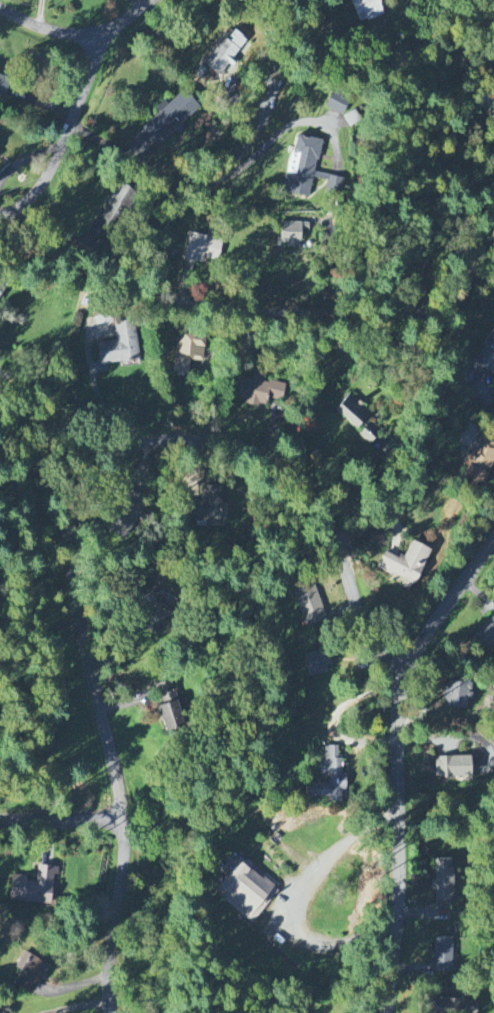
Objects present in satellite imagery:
building: (366, 10)
road: (322, 12)
road: (82, 42)
building: (223, 54)
building: (4, 84)
road: (80, 88)
building: (335, 104)
building: (169, 119)
road: (146, 160)
building: (301, 167)
building: (333, 187)
building: (109, 215)
building: (289, 234)
road: (48, 244)
building: (200, 250)
road: (480, 276)
building: (1, 289)
road: (269, 310)
road: (377, 334)
building: (119, 346)
building: (186, 353)
building: (486, 354)
road: (95, 390)
road: (447, 390)
building: (262, 392)
road: (484, 397)
building: (351, 412)
building: (368, 433)
building: (479, 464)
building: (211, 504)
road: (77, 513)
building: (126, 516)
building: (405, 566)
building: (145, 597)
building: (308, 605)
building: (485, 635)
building: (316, 663)
building: (456, 694)
building: (168, 707)
road: (332, 718)
road: (447, 724)
road: (397, 764)
building: (452, 767)
building: (328, 778)
road: (61, 818)
road: (337, 866)
building: (442, 881)
building: (33, 887)
building: (262, 898)
building: (443, 956)
building: (29, 974)
road: (83, 1005)
building: (453, 1006)

